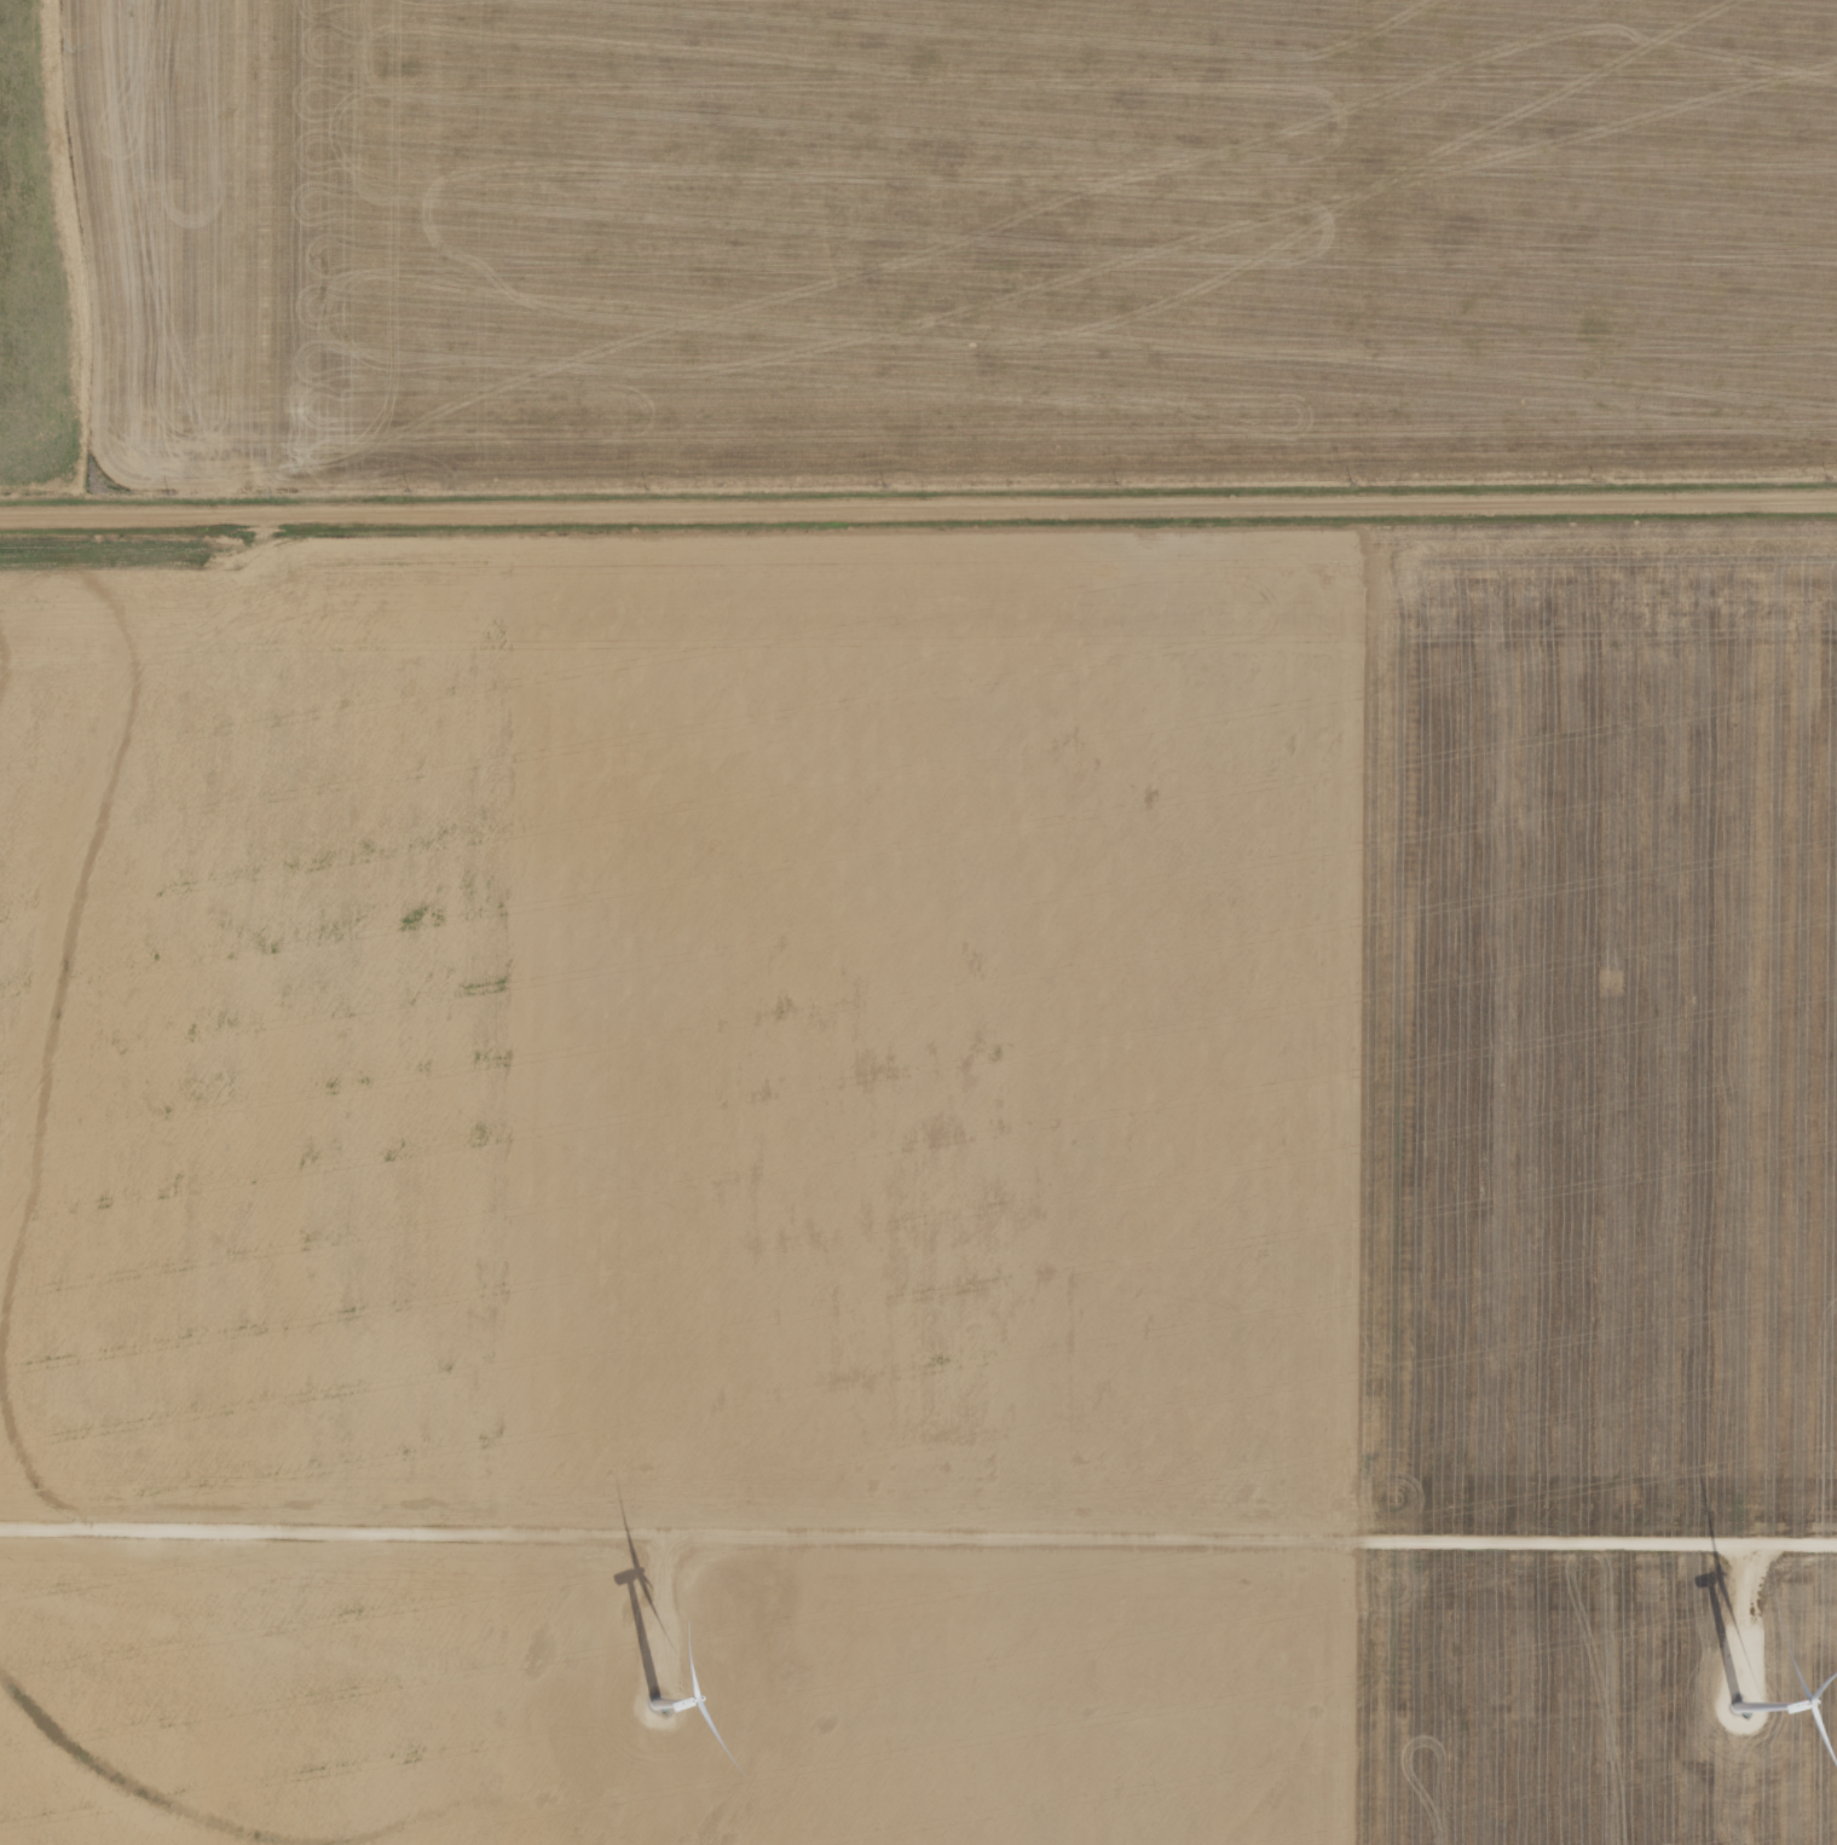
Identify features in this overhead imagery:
road: (918, 504)
wind turbine: (654, 1711)
wind turbine: (1734, 1716)

